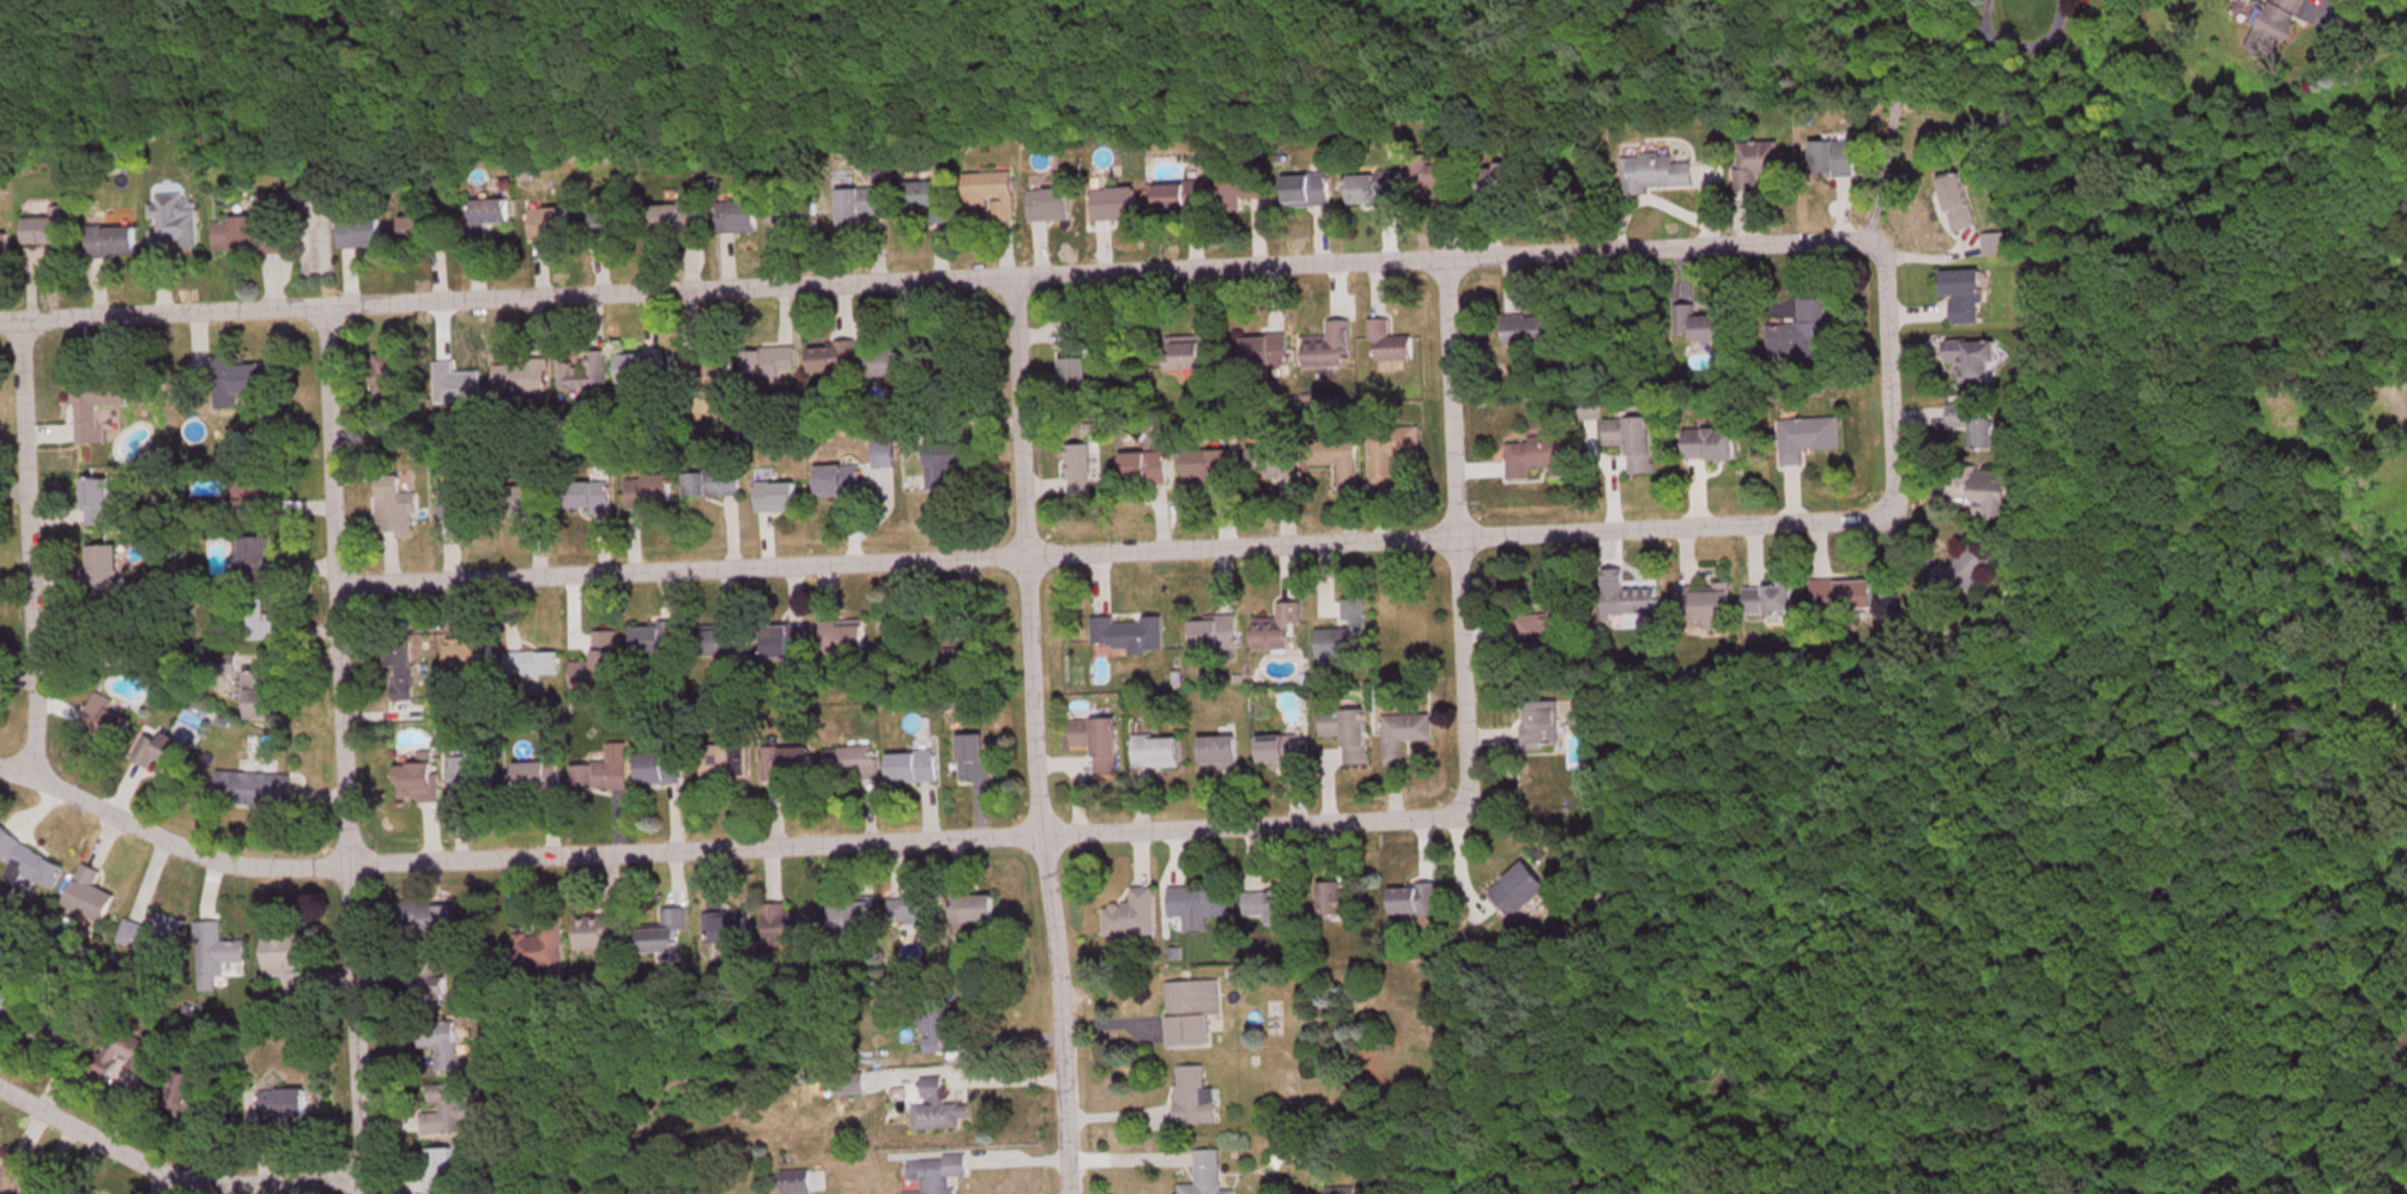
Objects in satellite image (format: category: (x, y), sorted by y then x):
building: (2280, 29)
building: (1837, 160)
building: (1764, 165)
building: (1662, 174)
building: (1474, 178)
building: (1252, 188)
building: (1375, 189)
building: (1314, 190)
building: (932, 195)
building: (996, 195)
building: (1185, 199)
building: (1961, 204)
building: (1115, 206)
building: (860, 207)
building: (1053, 207)
building: (491, 214)
building: (751, 219)
building: (678, 223)
building: (176, 225)
building: (552, 226)
building: (624, 228)
building: (52, 231)
building: (255, 231)
building: (363, 235)
building: (115, 243)
road: (937, 280)
building: (1968, 299)
building: (1541, 331)
building: (1714, 331)
building: (1813, 332)
building: (1392, 346)
building: (1335, 350)
building: (1272, 351)
building: (1196, 352)
building: (1078, 356)
building: (836, 360)
building: (1978, 362)
building: (773, 363)
building: (709, 365)
building: (643, 369)
building: (903, 369)
building: (587, 375)
building: (960, 375)
building: (530, 376)
building: (389, 377)
road: (1886, 380)
building: (238, 384)
building: (99, 406)
building: (1089, 426)
building: (1989, 434)
building: (1148, 441)
building: (1804, 441)
building: (915, 443)
building: (1637, 443)
building: (1714, 446)
building: (1396, 454)
building: (885, 455)
building: (952, 459)
building: (1338, 460)
building: (1544, 460)
building: (1276, 465)
building: (1149, 467)
building: (1211, 468)
building: (1082, 471)
building: (842, 483)
building: (715, 485)
building: (250, 493)
building: (653, 495)
building: (779, 496)
building: (1995, 498)
building: (567, 501)
building: (101, 504)
building: (464, 507)
building: (398, 513)
road: (1450, 534)
road: (25, 551)
road: (1107, 551)
building: (259, 570)
building: (1963, 577)
building: (1846, 598)
building: (1773, 602)
building: (1635, 604)
building: (1707, 604)
building: (1559, 623)
building: (266, 626)
building: (1402, 629)
building: (1282, 631)
building: (1217, 635)
road: (1024, 637)
building: (1348, 637)
building: (846, 638)
building: (1132, 638)
building: (660, 642)
building: (790, 644)
building: (730, 646)
building: (963, 651)
building: (474, 659)
building: (603, 666)
building: (537, 667)
building: (405, 674)
building: (268, 697)
building: (109, 722)
building: (1544, 725)
building: (1410, 729)
building: (1351, 734)
building: (1102, 745)
road: (339, 747)
building: (167, 753)
building: (1286, 753)
building: (1160, 754)
building: (1222, 754)
building: (978, 759)
building: (727, 760)
building: (853, 765)
building: (791, 766)
building: (915, 769)
building: (663, 770)
building: (472, 777)
building: (540, 777)
building: (603, 778)
building: (419, 784)
building: (260, 792)
road: (718, 848)
building: (34, 865)
building: (1523, 891)
building: (91, 897)
building: (1342, 902)
building: (1417, 902)
building: (1201, 907)
building: (979, 910)
building: (1271, 910)
building: (915, 913)
building: (854, 916)
building: (1135, 917)
building: (446, 920)
building: (788, 927)
building: (730, 931)
building: (669, 933)
building: (604, 934)
building: (153, 937)
building: (543, 948)
building: (284, 966)
building: (434, 980)
building: (13, 1008)
building: (1193, 1013)
building: (937, 1031)
building: (49, 1036)
building: (443, 1048)
building: (133, 1054)
road: (1057, 1095)
building: (192, 1099)
building: (1196, 1099)
building: (295, 1108)
building: (452, 1110)
building: (942, 1111)
building: (1290, 1168)
building: (442, 1172)
road: (169, 1175)
building: (1209, 1175)
building: (936, 1176)
building: (12, 1178)
building: (798, 1183)
building: (1343, 1192)
building: (53, 1193)

